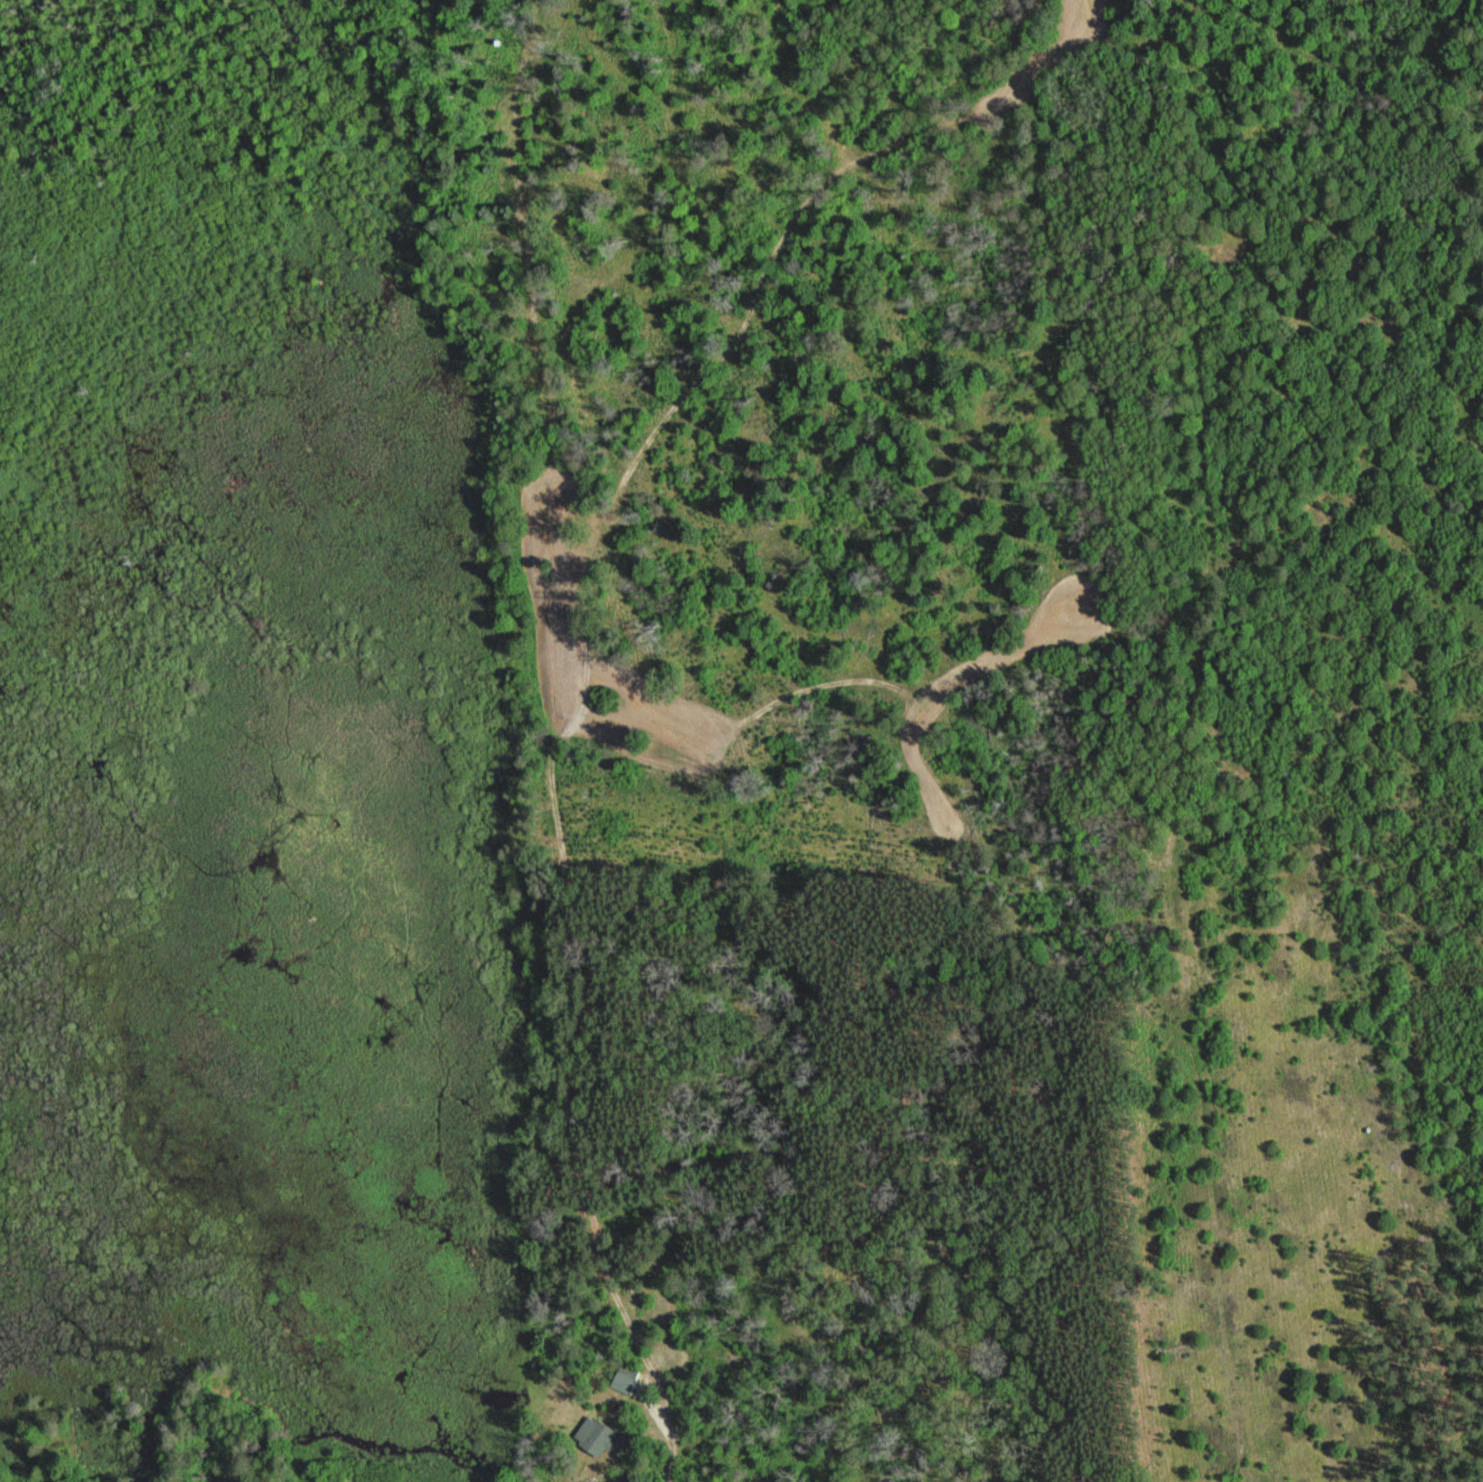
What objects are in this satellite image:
building: (623, 1383)
building: (598, 1439)

